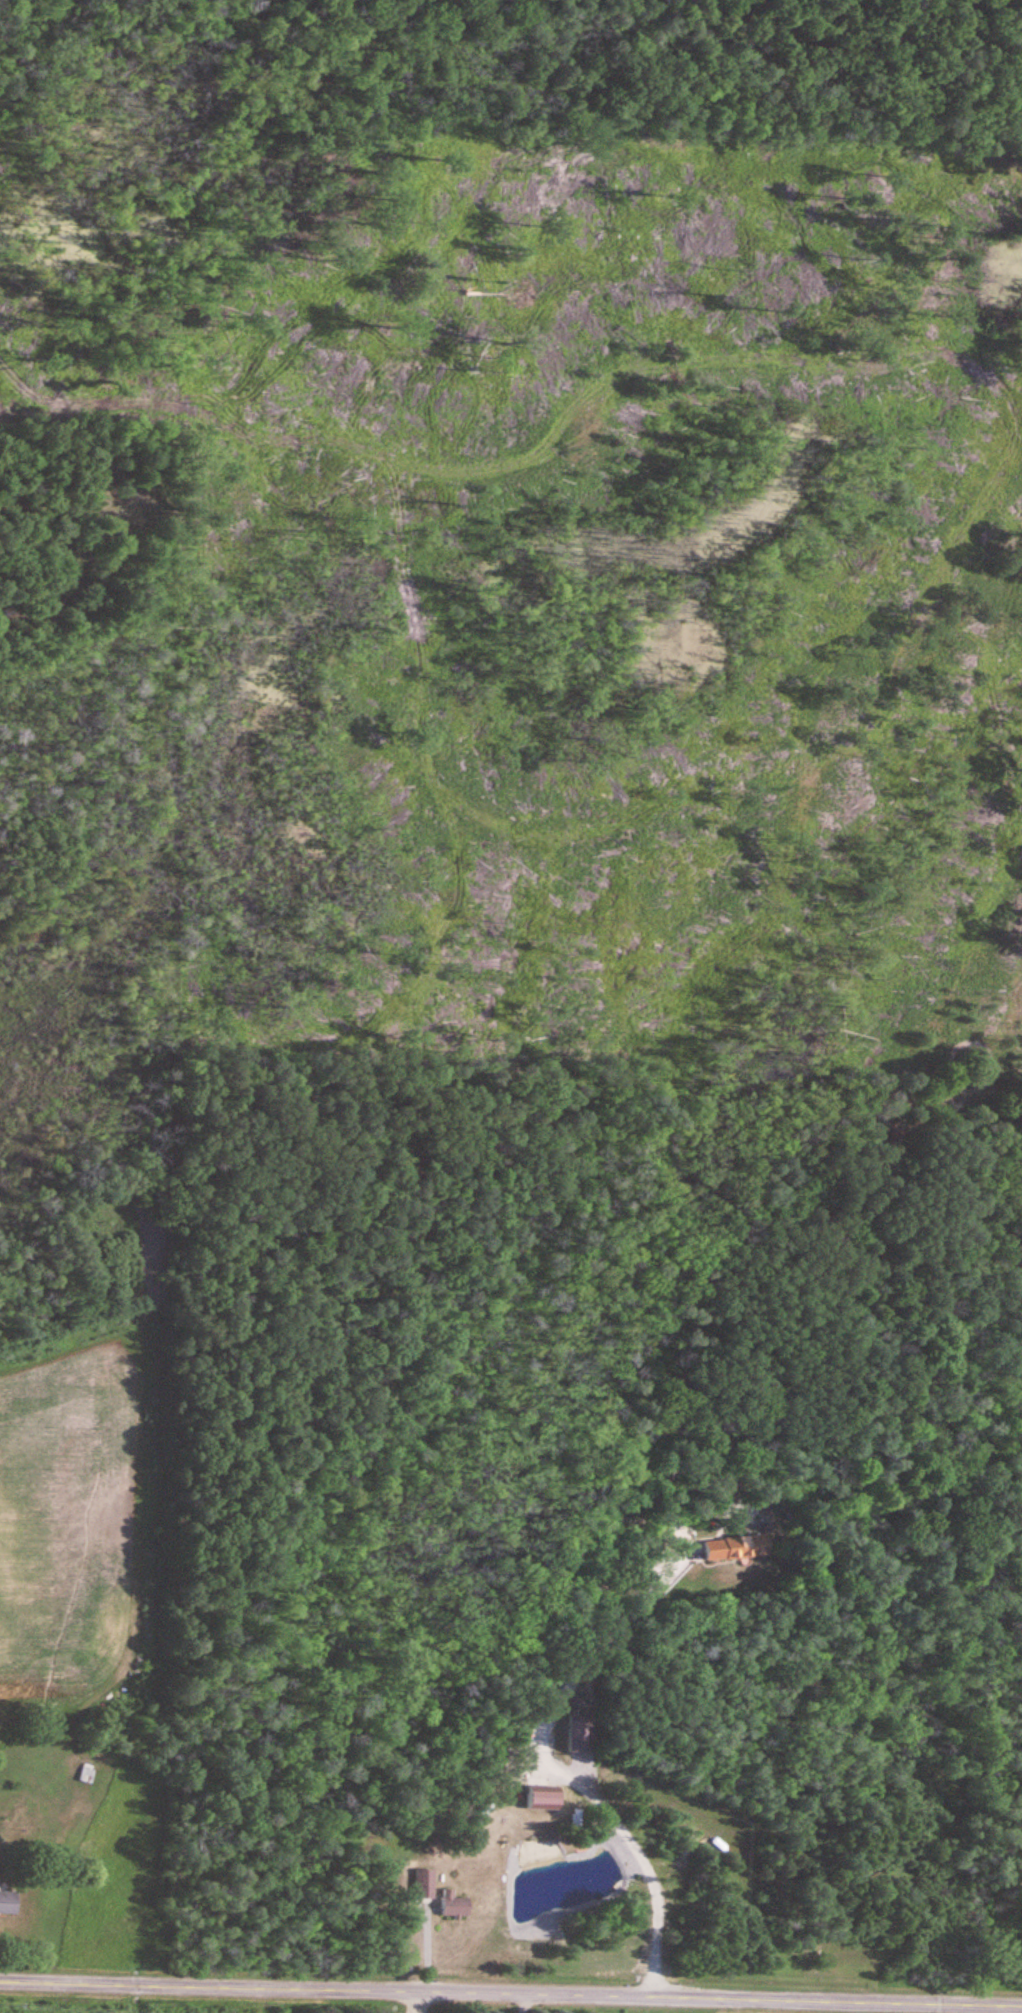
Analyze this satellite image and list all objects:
building: (737, 1548)
building: (580, 1732)
building: (543, 1798)
building: (8, 1902)
building: (455, 1907)
road: (511, 1991)
road: (409, 2002)
road: (518, 2002)

